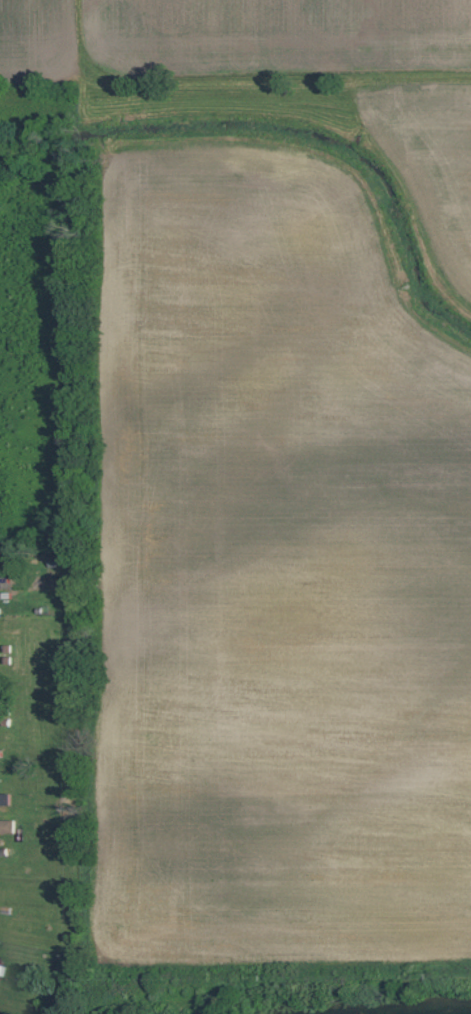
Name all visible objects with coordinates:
building: (6, 799)
building: (8, 826)

